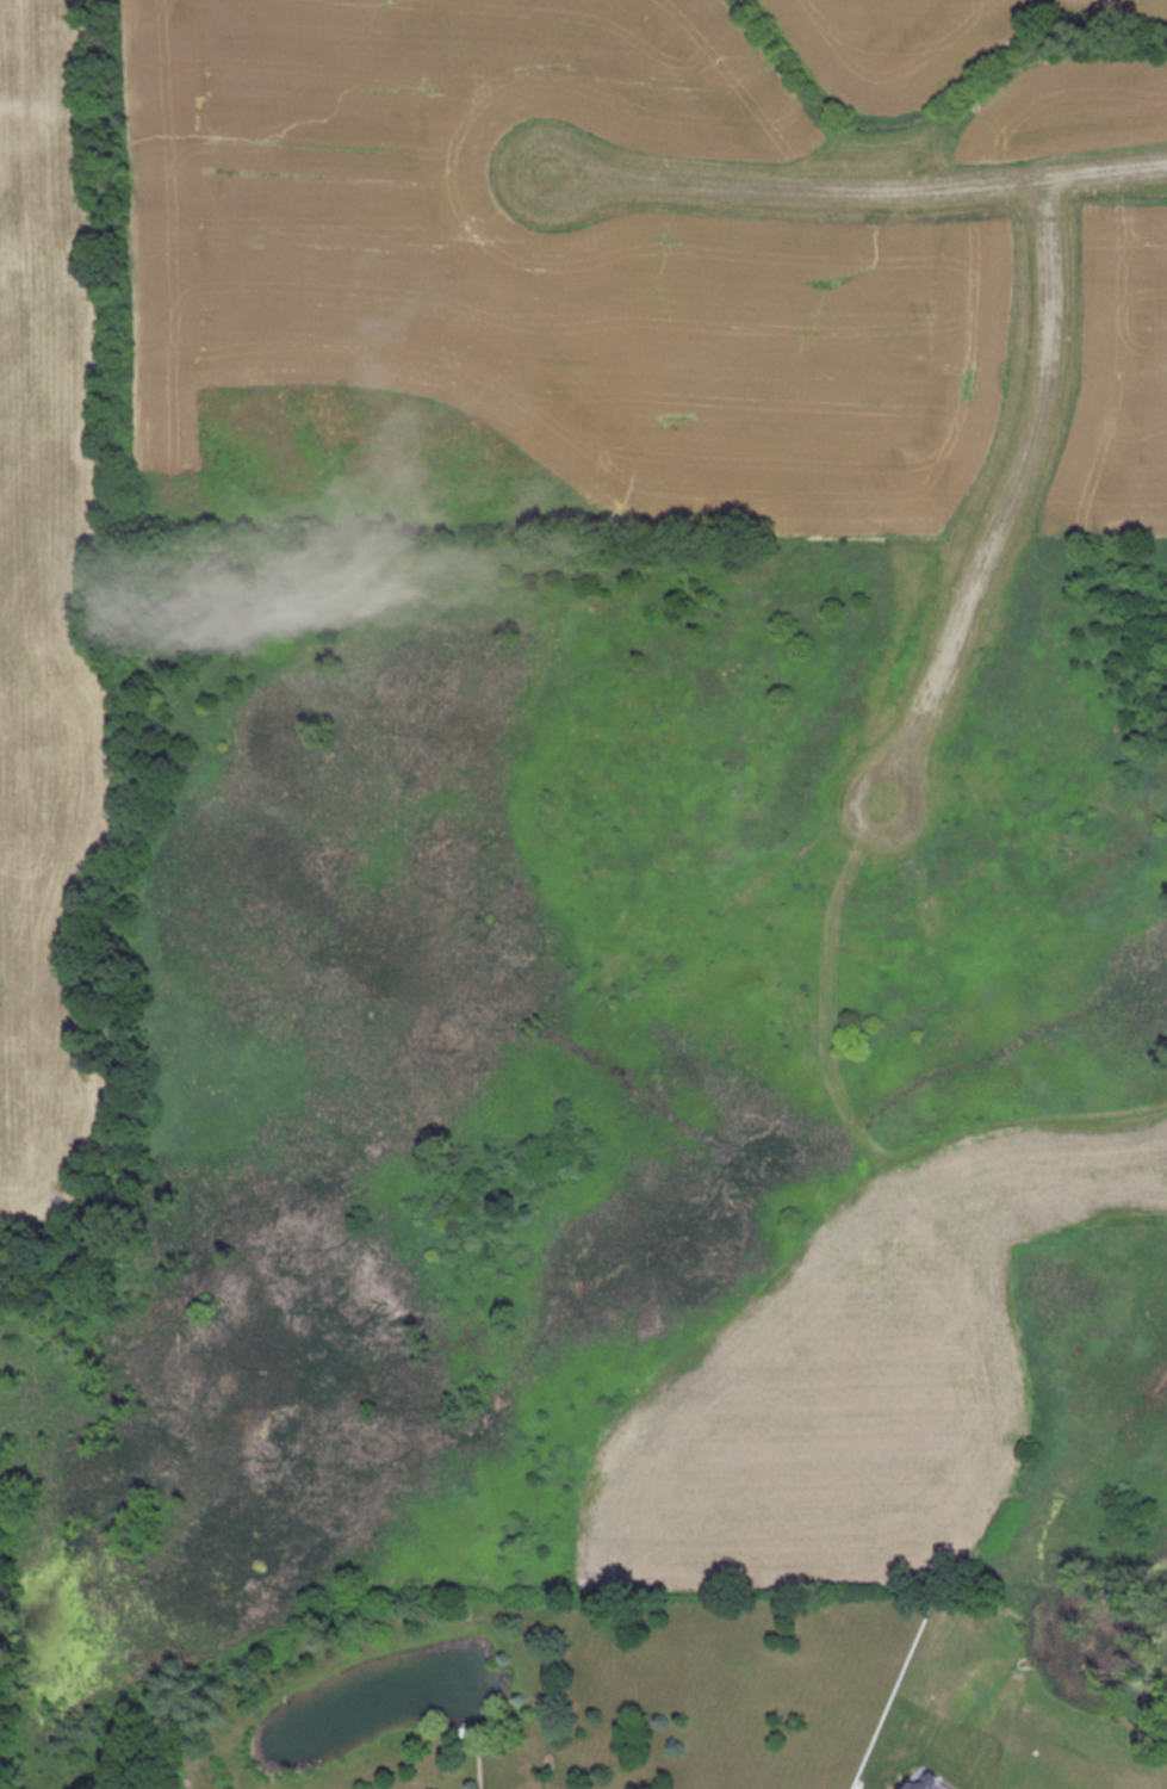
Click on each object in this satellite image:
road: (865, 187)
road: (1005, 502)

